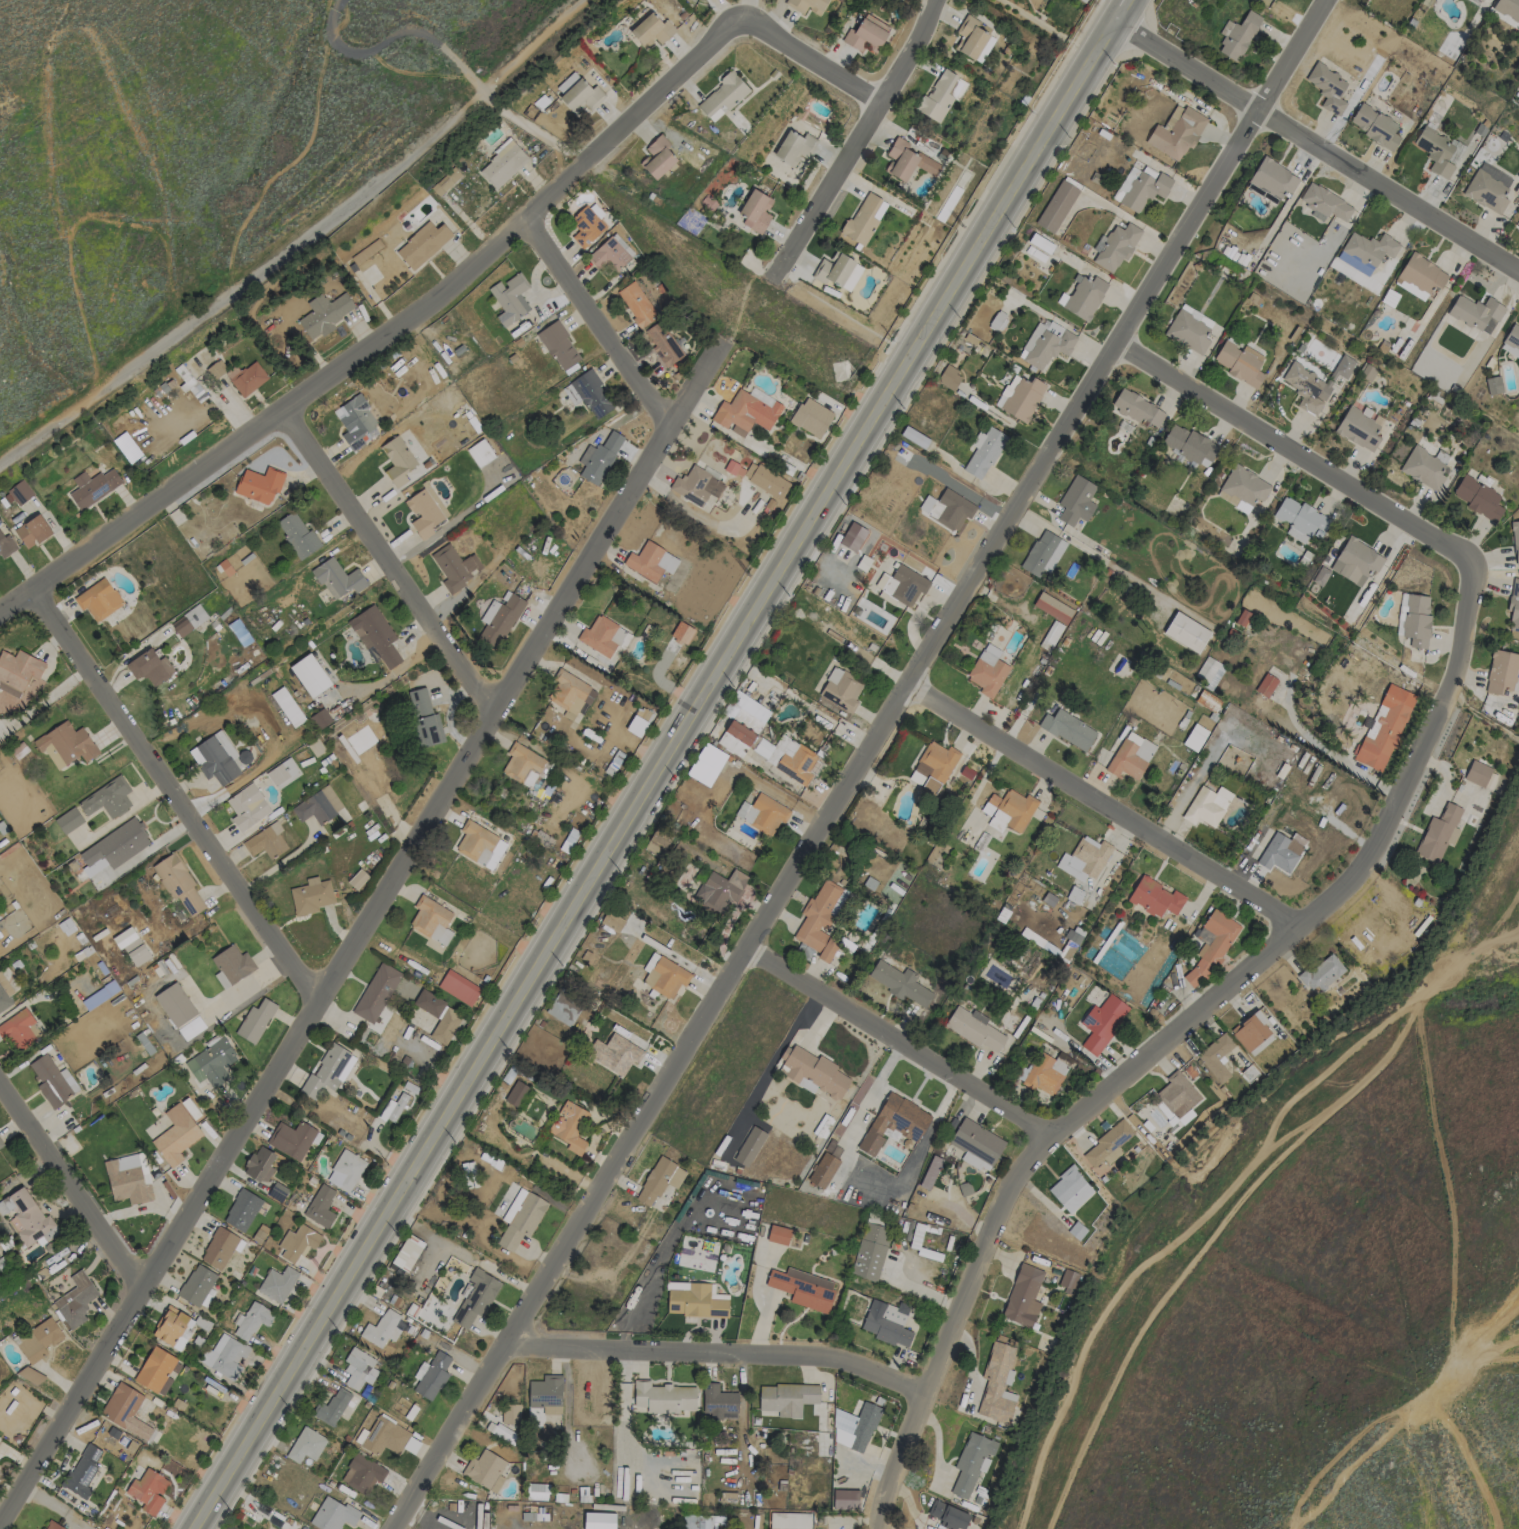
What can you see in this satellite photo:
building: (806, 5)
building: (1508, 8)
road: (1030, 17)
building: (651, 30)
building: (866, 33)
building: (1237, 35)
road: (396, 39)
building: (972, 39)
road: (688, 63)
building: (567, 83)
building: (1328, 88)
building: (723, 95)
building: (581, 96)
building: (941, 96)
building: (1374, 126)
road: (536, 131)
building: (1176, 132)
road: (859, 135)
road: (1318, 145)
building: (794, 147)
building: (1435, 151)
building: (658, 158)
building: (907, 161)
building: (502, 164)
building: (1517, 175)
building: (1273, 178)
building: (446, 181)
building: (1141, 188)
building: (1488, 188)
building: (1325, 204)
building: (1057, 206)
building: (755, 211)
building: (862, 219)
building: (587, 224)
building: (1518, 227)
road: (1183, 235)
building: (1040, 243)
building: (422, 244)
building: (1117, 246)
building: (610, 253)
building: (837, 271)
building: (1419, 276)
road: (247, 290)
building: (1084, 297)
building: (510, 298)
building: (636, 304)
building: (325, 313)
building: (1476, 313)
building: (1196, 315)
road: (595, 321)
building: (1188, 332)
building: (1511, 340)
building: (663, 343)
building: (1045, 343)
building: (558, 345)
building: (1240, 363)
building: (216, 369)
building: (248, 378)
building: (949, 378)
building: (1314, 383)
building: (1493, 385)
building: (591, 393)
building: (1020, 397)
building: (1137, 408)
building: (746, 411)
building: (811, 417)
road: (264, 423)
building: (358, 423)
building: (1358, 429)
building: (914, 437)
building: (1189, 445)
road: (1292, 451)
building: (983, 452)
building: (480, 453)
building: (599, 458)
building: (397, 460)
building: (766, 480)
building: (259, 484)
building: (1245, 485)
building: (696, 486)
building: (93, 487)
building: (19, 492)
building: (1478, 498)
building: (1076, 501)
building: (947, 508)
building: (424, 512)
building: (1300, 519)
building: (33, 531)
building: (298, 535)
building: (853, 537)
building: (1515, 541)
building: (1042, 554)
road: (388, 560)
building: (1356, 561)
building: (650, 562)
building: (455, 566)
building: (337, 578)
building: (98, 600)
building: (1514, 603)
building: (1242, 617)
building: (189, 620)
building: (498, 620)
building: (1416, 620)
building: (1053, 632)
building: (1186, 632)
building: (375, 635)
building: (603, 636)
building: (149, 667)
building: (18, 671)
building: (988, 671)
building: (1209, 671)
building: (1501, 672)
building: (310, 675)
building: (1267, 683)
building: (841, 689)
building: (569, 690)
building: (746, 712)
building: (320, 719)
building: (424, 719)
building: (1384, 727)
building: (1068, 729)
building: (1195, 737)
building: (65, 745)
building: (763, 748)
building: (1130, 756)
building: (215, 758)
building: (792, 759)
building: (521, 762)
building: (932, 767)
road: (671, 769)
building: (283, 773)
building: (1477, 773)
road: (173, 797)
building: (108, 798)
road: (1099, 805)
building: (318, 806)
building: (1207, 806)
building: (247, 807)
building: (1007, 811)
building: (762, 813)
building: (68, 820)
building: (1439, 833)
building: (474, 840)
building: (568, 840)
building: (266, 842)
building: (657, 842)
building: (114, 847)
building: (1279, 852)
building: (1085, 858)
road: (283, 859)
building: (357, 879)
building: (178, 884)
building: (720, 890)
building: (1074, 895)
building: (311, 896)
building: (1155, 897)
building: (429, 916)
building: (820, 920)
building: (612, 921)
road: (360, 931)
building: (1210, 946)
building: (131, 947)
building: (233, 964)
building: (1321, 973)
building: (666, 977)
building: (900, 983)
building: (458, 987)
building: (376, 992)
building: (4, 993)
road: (713, 997)
building: (429, 1003)
building: (175, 1004)
building: (563, 1010)
building: (255, 1020)
building: (1102, 1023)
building: (445, 1026)
building: (18, 1029)
building: (974, 1029)
building: (1250, 1030)
road: (1168, 1039)
road: (894, 1041)
building: (619, 1051)
building: (1216, 1056)
building: (211, 1063)
building: (814, 1071)
building: (329, 1072)
building: (1045, 1074)
building: (52, 1080)
building: (516, 1093)
building: (1177, 1094)
building: (393, 1108)
building: (894, 1122)
building: (569, 1128)
building: (176, 1135)
building: (291, 1139)
building: (1, 1144)
building: (976, 1145)
building: (1107, 1145)
building: (749, 1146)
building: (259, 1164)
building: (825, 1165)
building: (345, 1171)
building: (931, 1172)
building: (469, 1174)
building: (126, 1180)
building: (659, 1180)
road: (71, 1185)
building: (1070, 1189)
building: (320, 1207)
building: (242, 1210)
building: (26, 1218)
building: (521, 1218)
building: (778, 1235)
building: (298, 1245)
building: (219, 1248)
building: (870, 1251)
building: (407, 1252)
building: (1067, 1280)
building: (277, 1283)
building: (196, 1285)
building: (803, 1288)
building: (1023, 1296)
building: (476, 1298)
building: (75, 1300)
building: (695, 1300)
building: (253, 1320)
building: (887, 1322)
building: (169, 1325)
building: (380, 1329)
building: (38, 1340)
road: (1469, 1340)
road: (718, 1350)
building: (228, 1355)
road: (1488, 1359)
building: (154, 1369)
building: (358, 1369)
building: (997, 1384)
building: (546, 1394)
building: (664, 1397)
building: (786, 1398)
building: (718, 1401)
building: (331, 1407)
building: (126, 1411)
building: (510, 1414)
building: (855, 1427)
building: (499, 1431)
building: (384, 1437)
building: (306, 1445)
building: (972, 1463)
building: (83, 1470)
building: (485, 1470)
building: (362, 1473)
building: (148, 1491)
building: (845, 1499)
building: (333, 1514)
building: (949, 1515)
building: (598, 1520)
building: (790, 1520)
building: (702, 1522)
building: (52, 1525)
road: (195, 1528)

